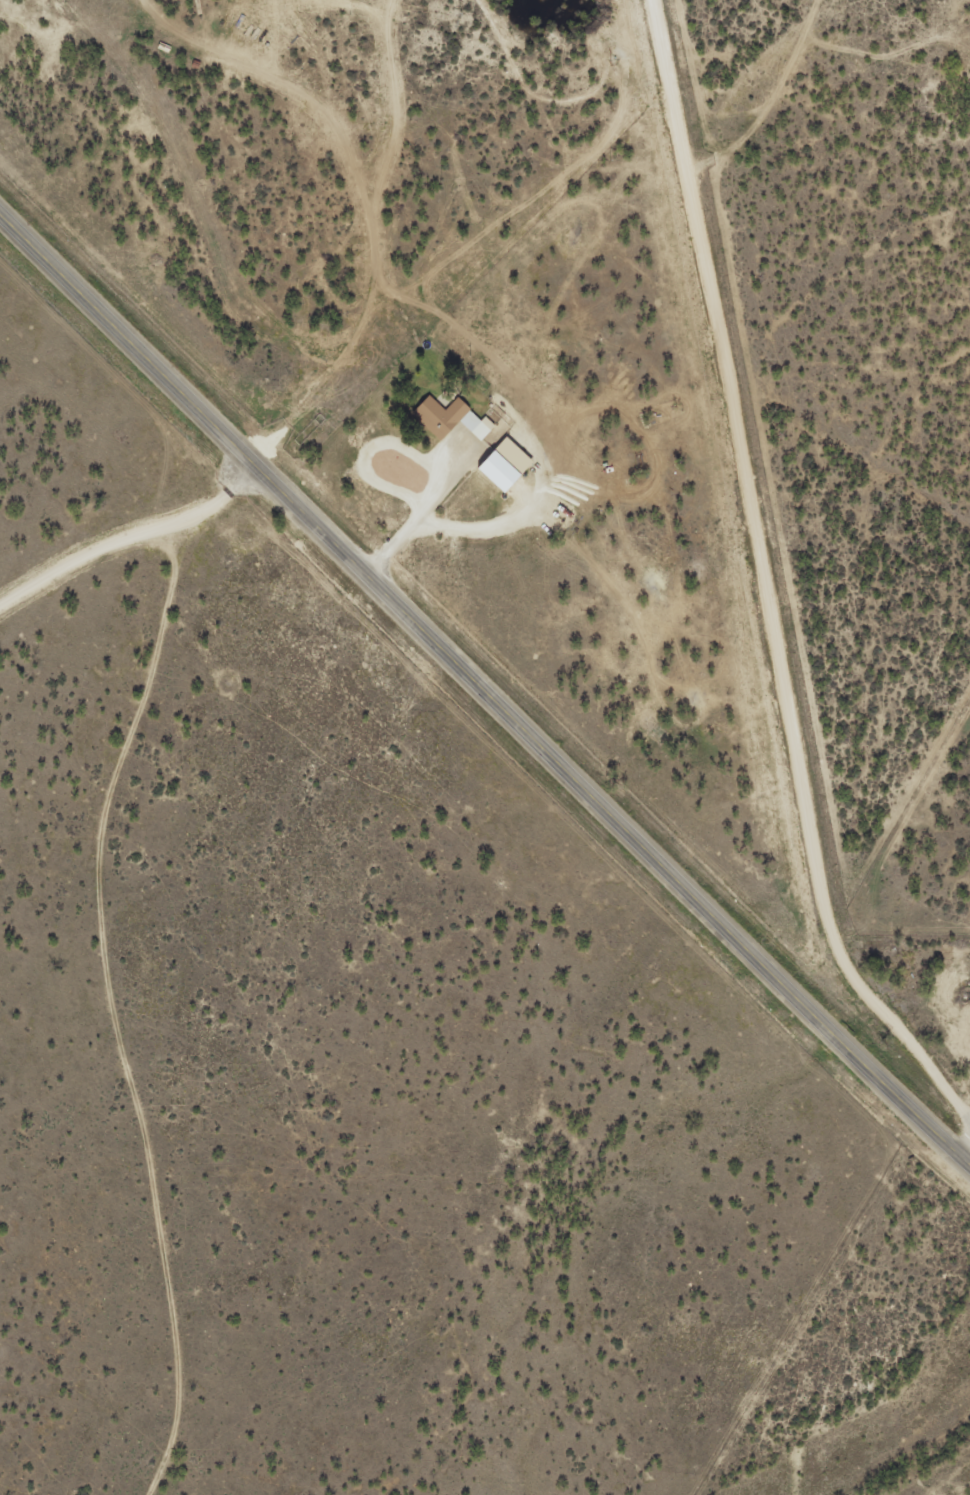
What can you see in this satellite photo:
road: (713, 35)
building: (450, 418)
building: (503, 464)
road: (777, 543)
road: (121, 551)
road: (479, 714)
road: (106, 972)

